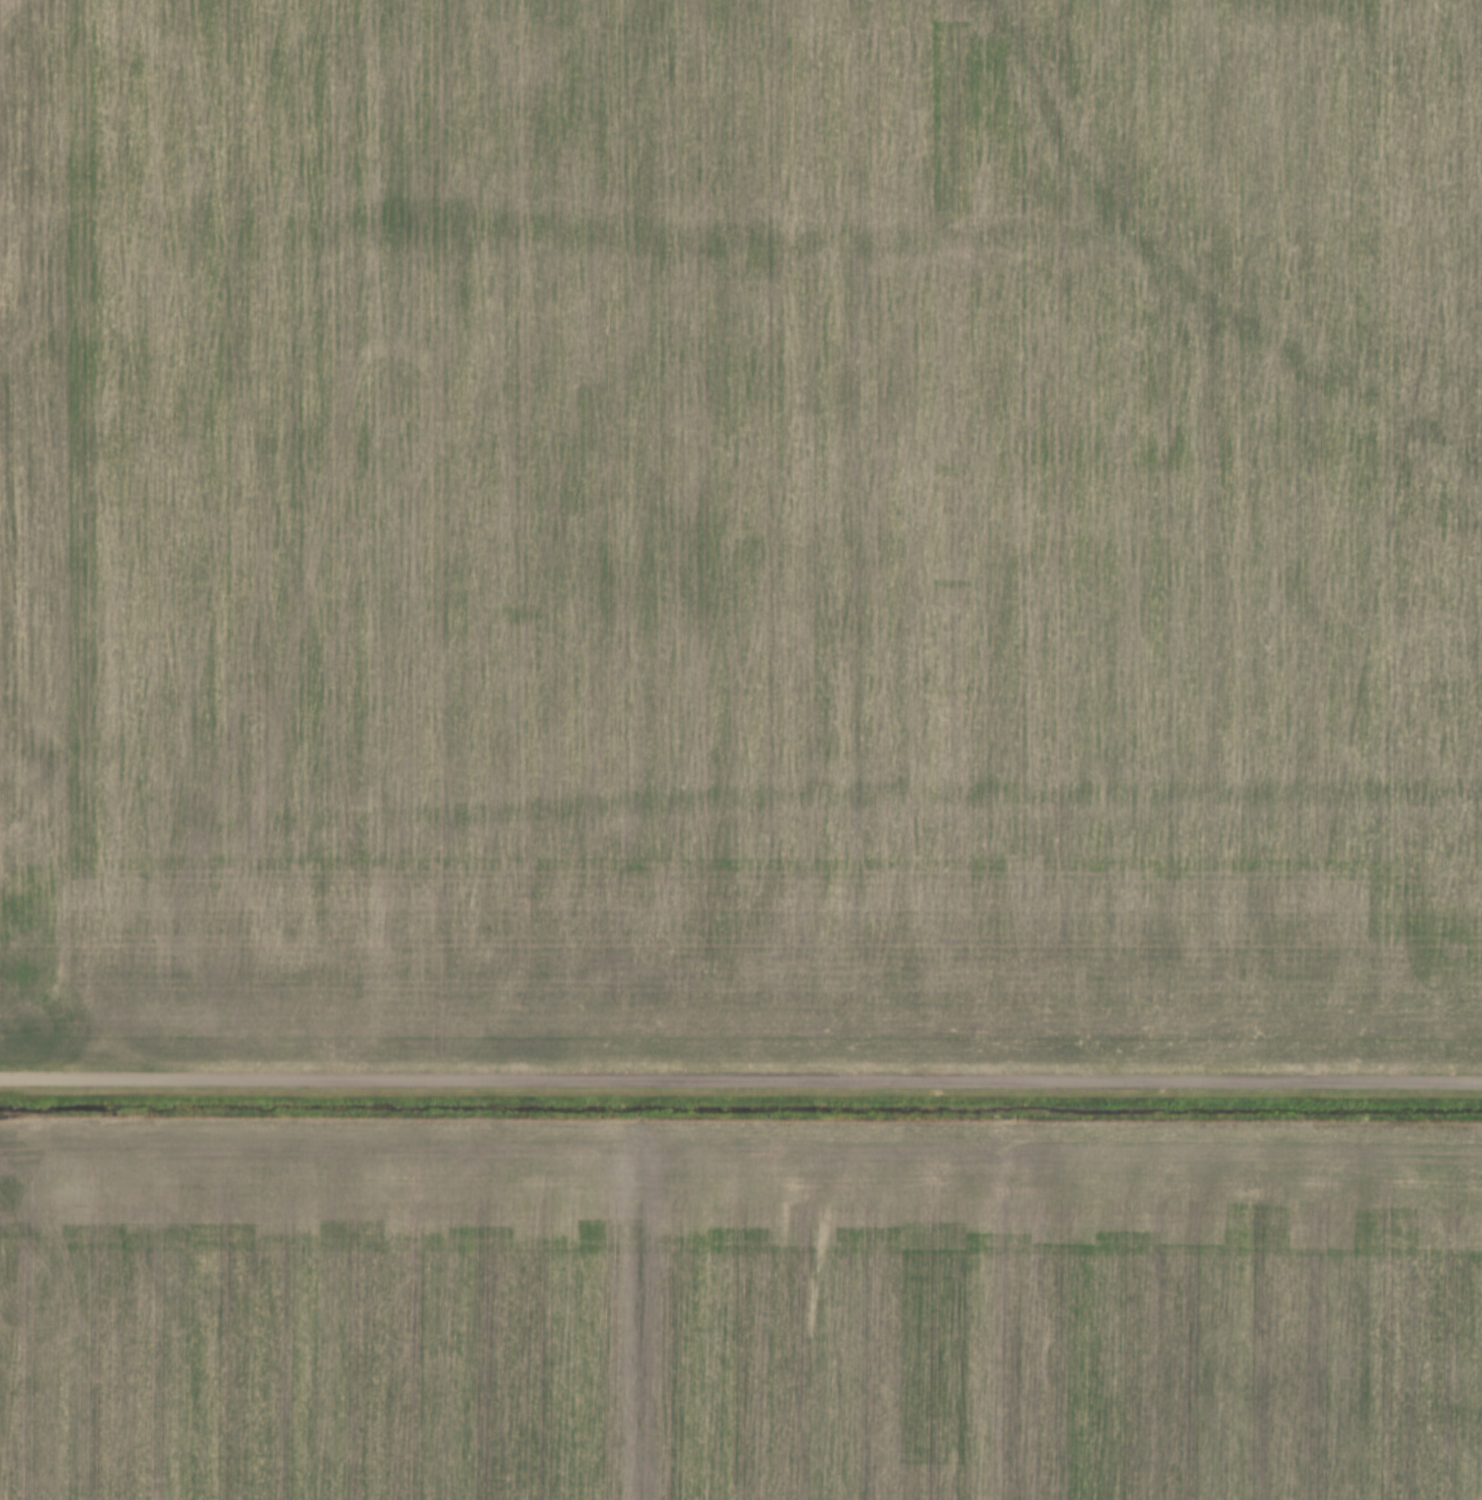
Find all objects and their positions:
road: (740, 1085)

